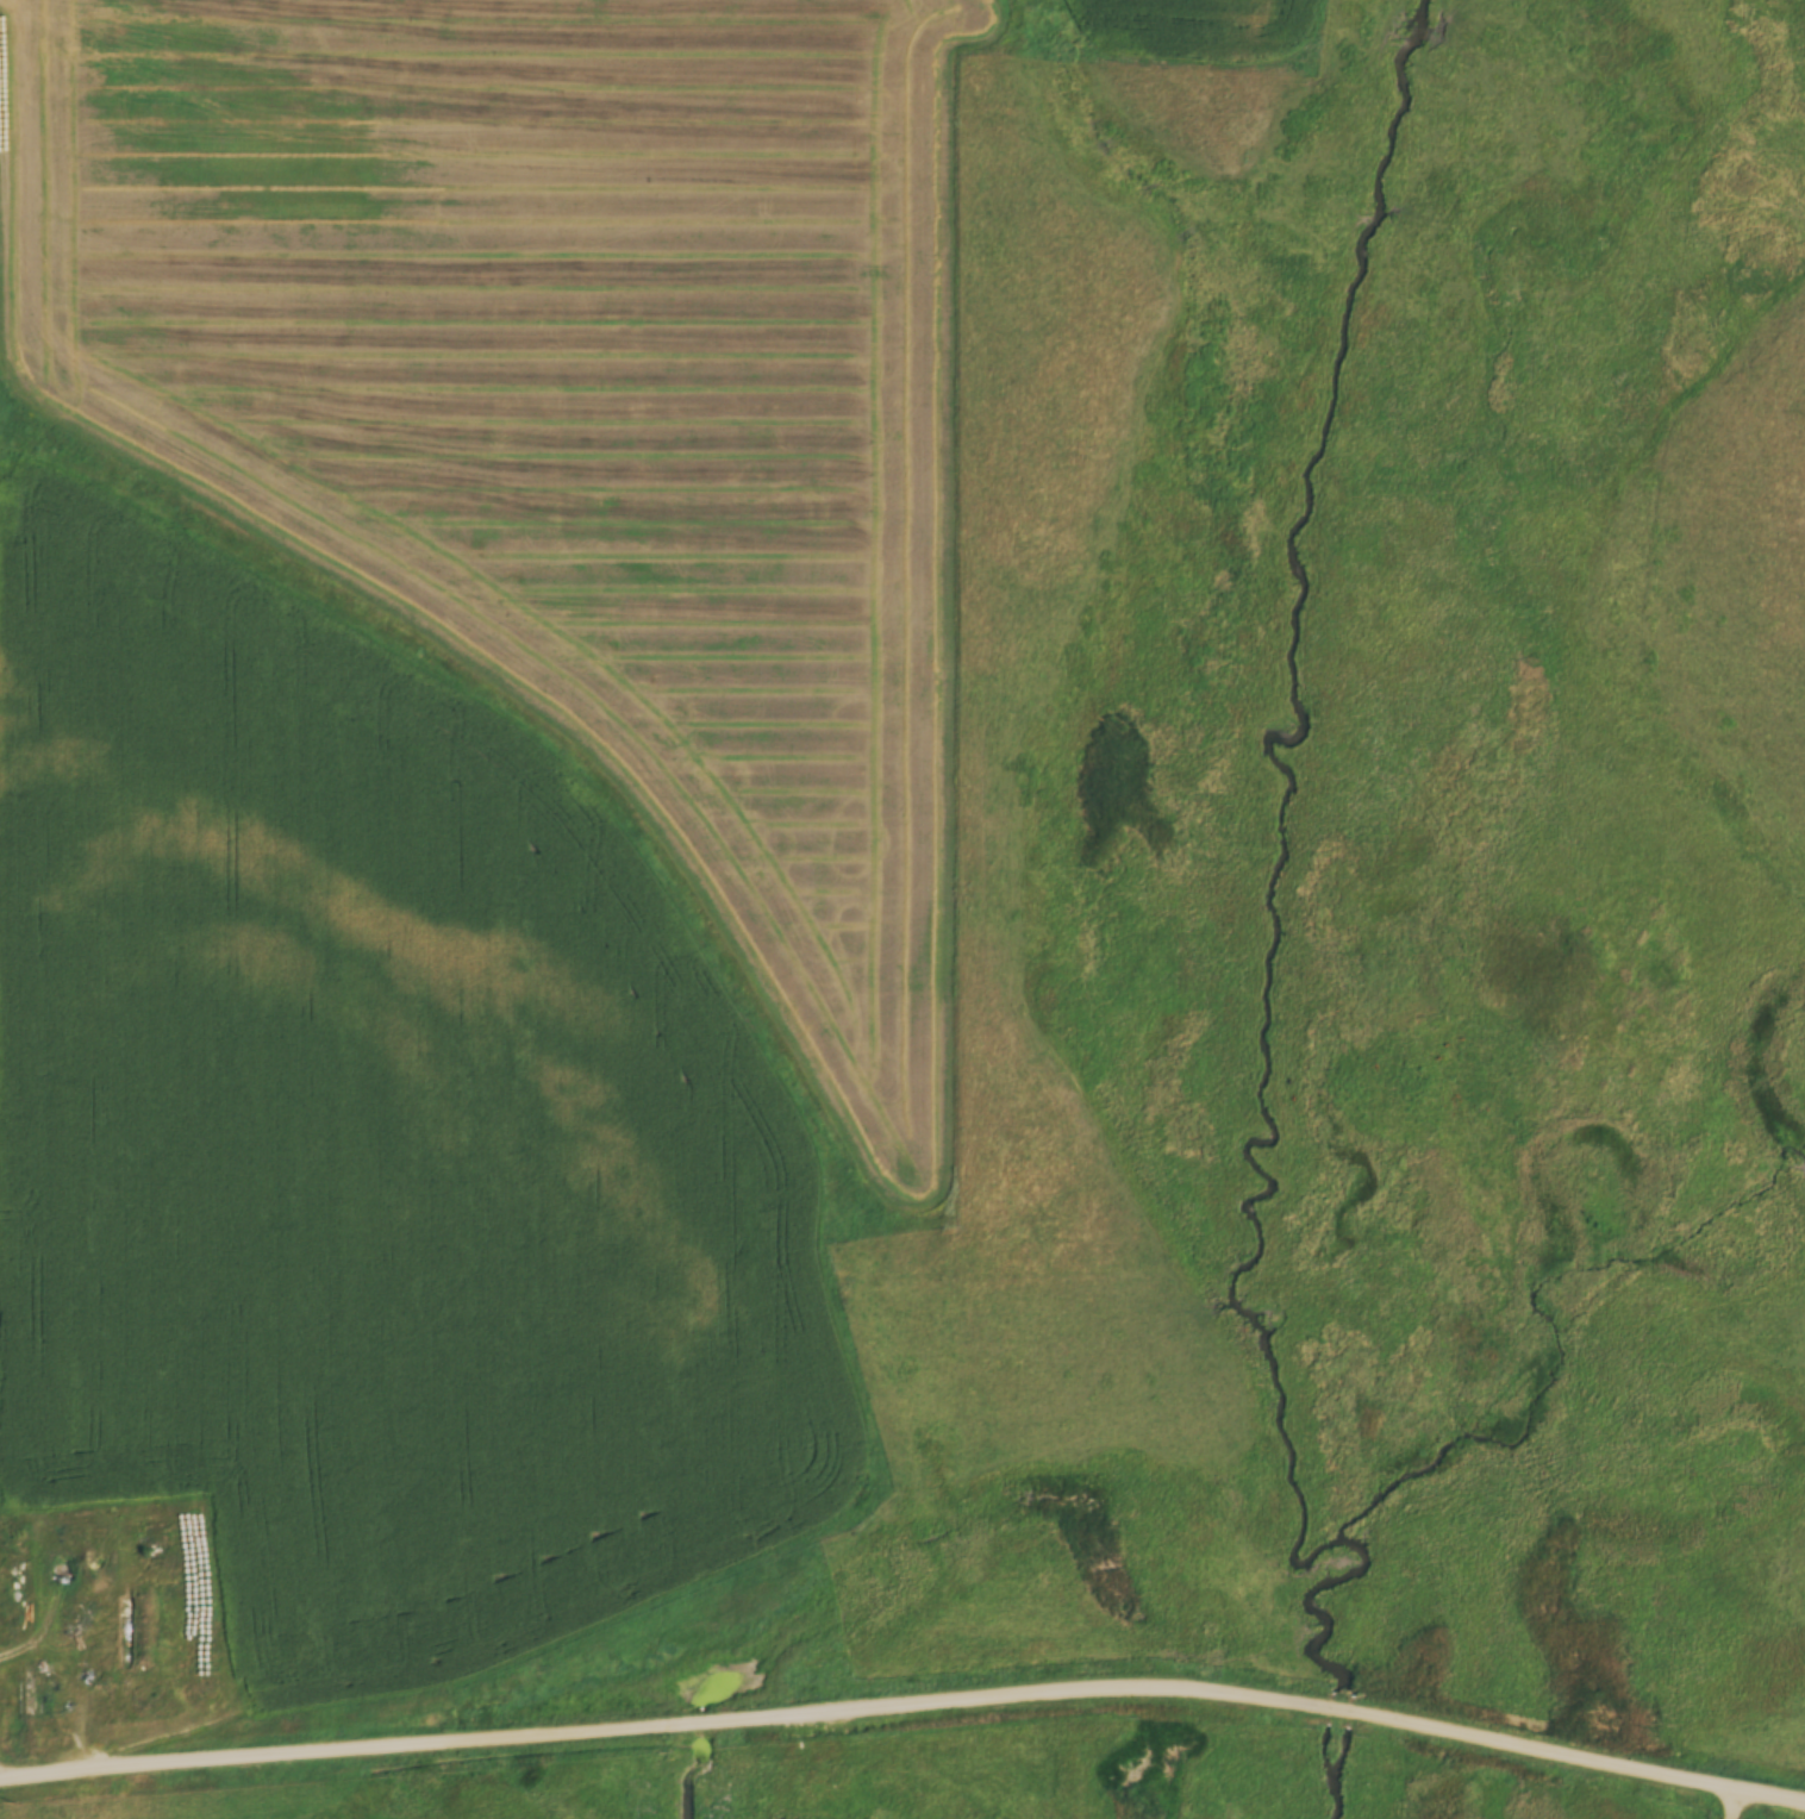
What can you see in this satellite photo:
building: (26, 1692)
road: (906, 1701)
road: (1735, 1802)
building: (32, 1813)

